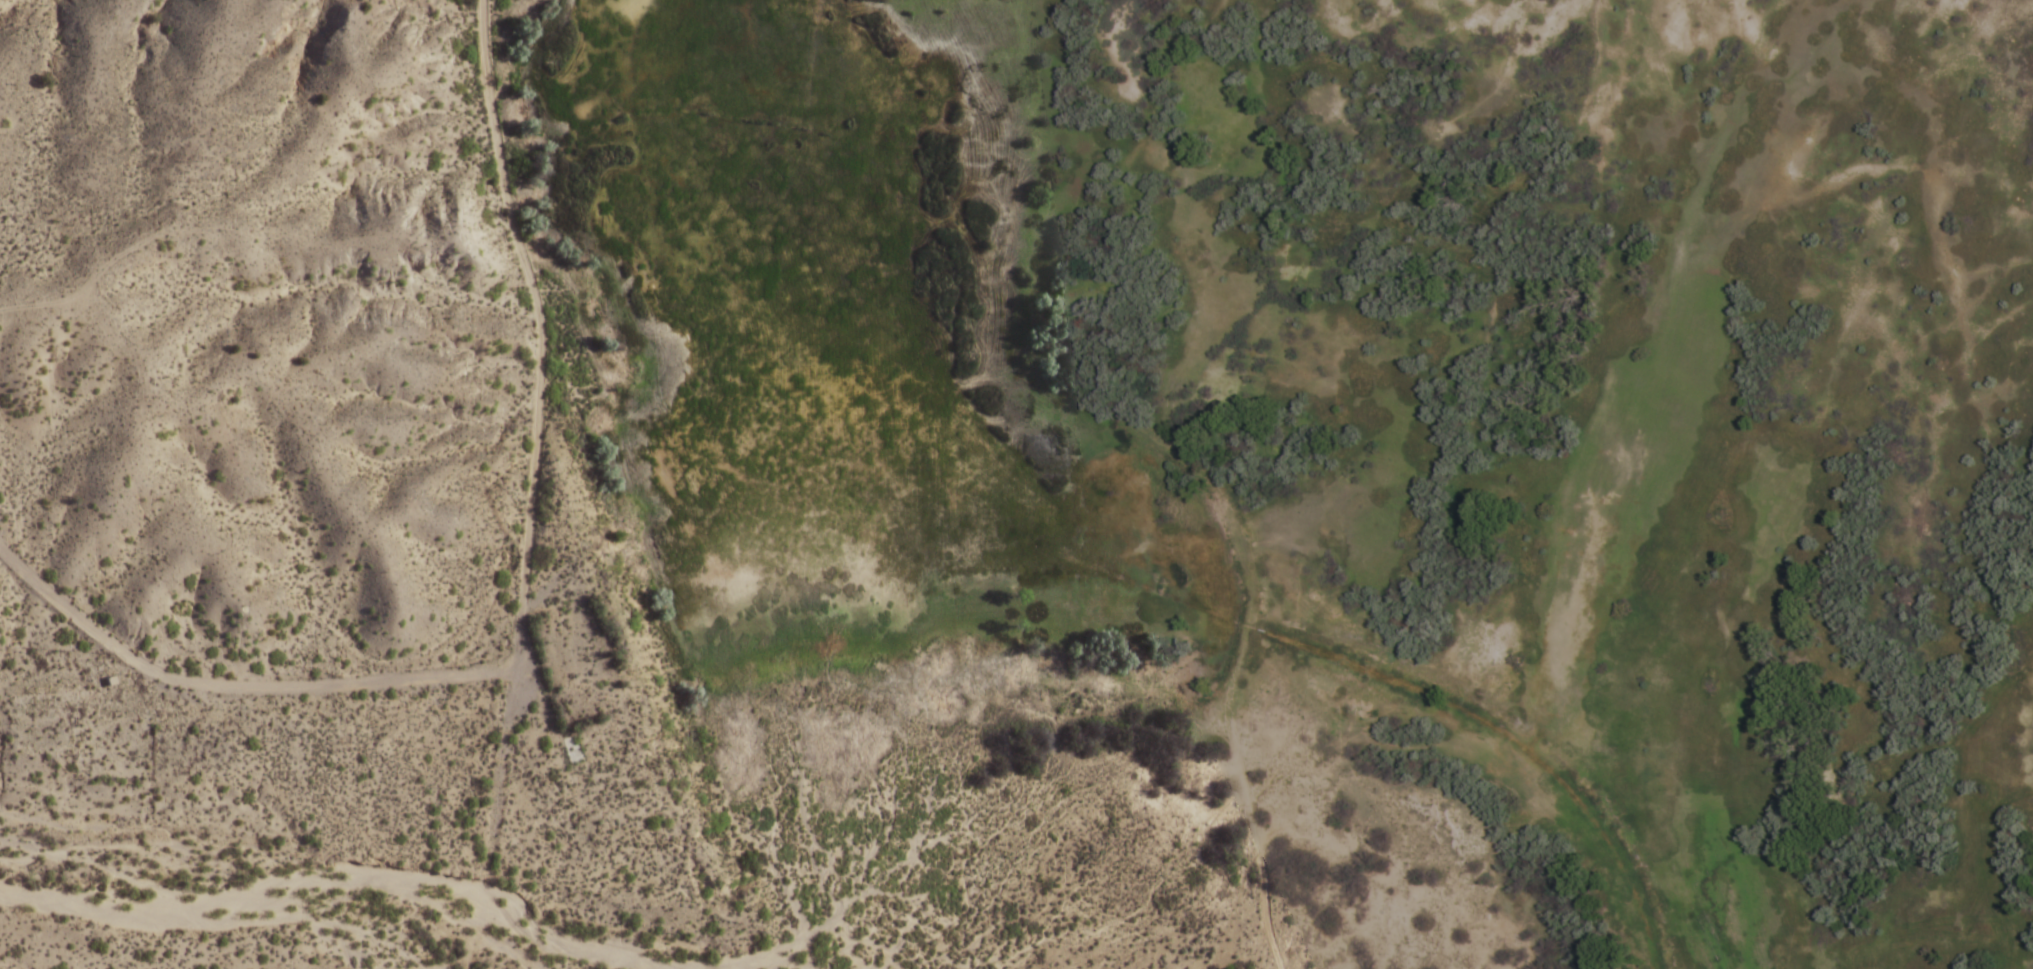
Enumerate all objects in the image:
road: (519, 613)
road: (1239, 662)
road: (491, 820)
river: (532, 925)

